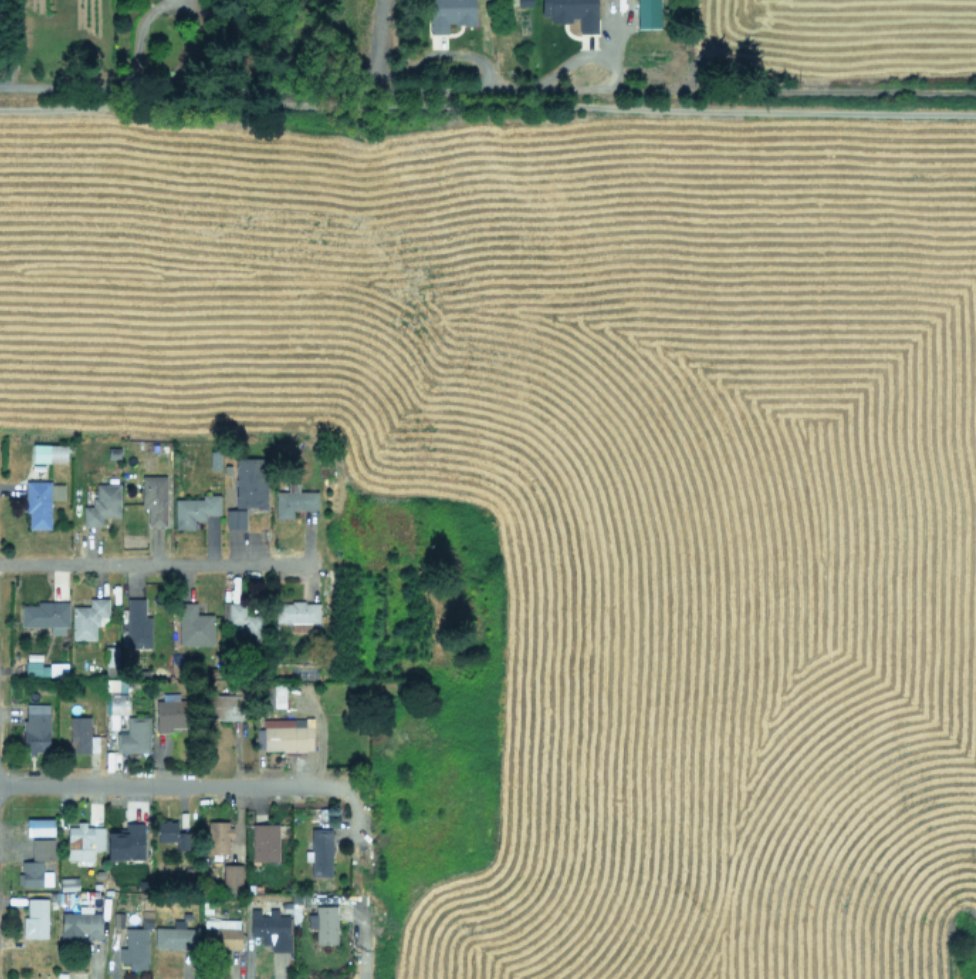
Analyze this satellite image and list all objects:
building: (524, 2)
building: (571, 12)
building: (448, 14)
road: (136, 39)
road: (17, 44)
road: (379, 44)
road: (442, 53)
road: (487, 88)
road: (488, 104)
crop: (574, 410)
building: (48, 453)
building: (250, 482)
building: (154, 498)
building: (293, 500)
building: (41, 502)
building: (102, 504)
building: (194, 510)
building: (235, 518)
road: (155, 564)
building: (296, 611)
building: (45, 615)
building: (87, 618)
building: (243, 621)
building: (137, 624)
building: (193, 625)
building: (110, 655)
building: (42, 666)
building: (235, 689)
building: (278, 695)
building: (115, 696)
building: (220, 705)
building: (171, 714)
building: (34, 727)
building: (284, 734)
building: (80, 735)
building: (133, 735)
road: (362, 755)
road: (171, 785)
road: (353, 813)
building: (41, 827)
building: (171, 833)
building: (218, 836)
building: (83, 841)
building: (125, 842)
building: (264, 842)
building: (320, 851)
building: (36, 862)
building: (231, 875)
building: (68, 883)
building: (296, 897)
building: (35, 918)
building: (323, 924)
building: (80, 926)
building: (270, 928)
building: (220, 933)
building: (173, 937)
road: (362, 939)
building: (134, 948)

